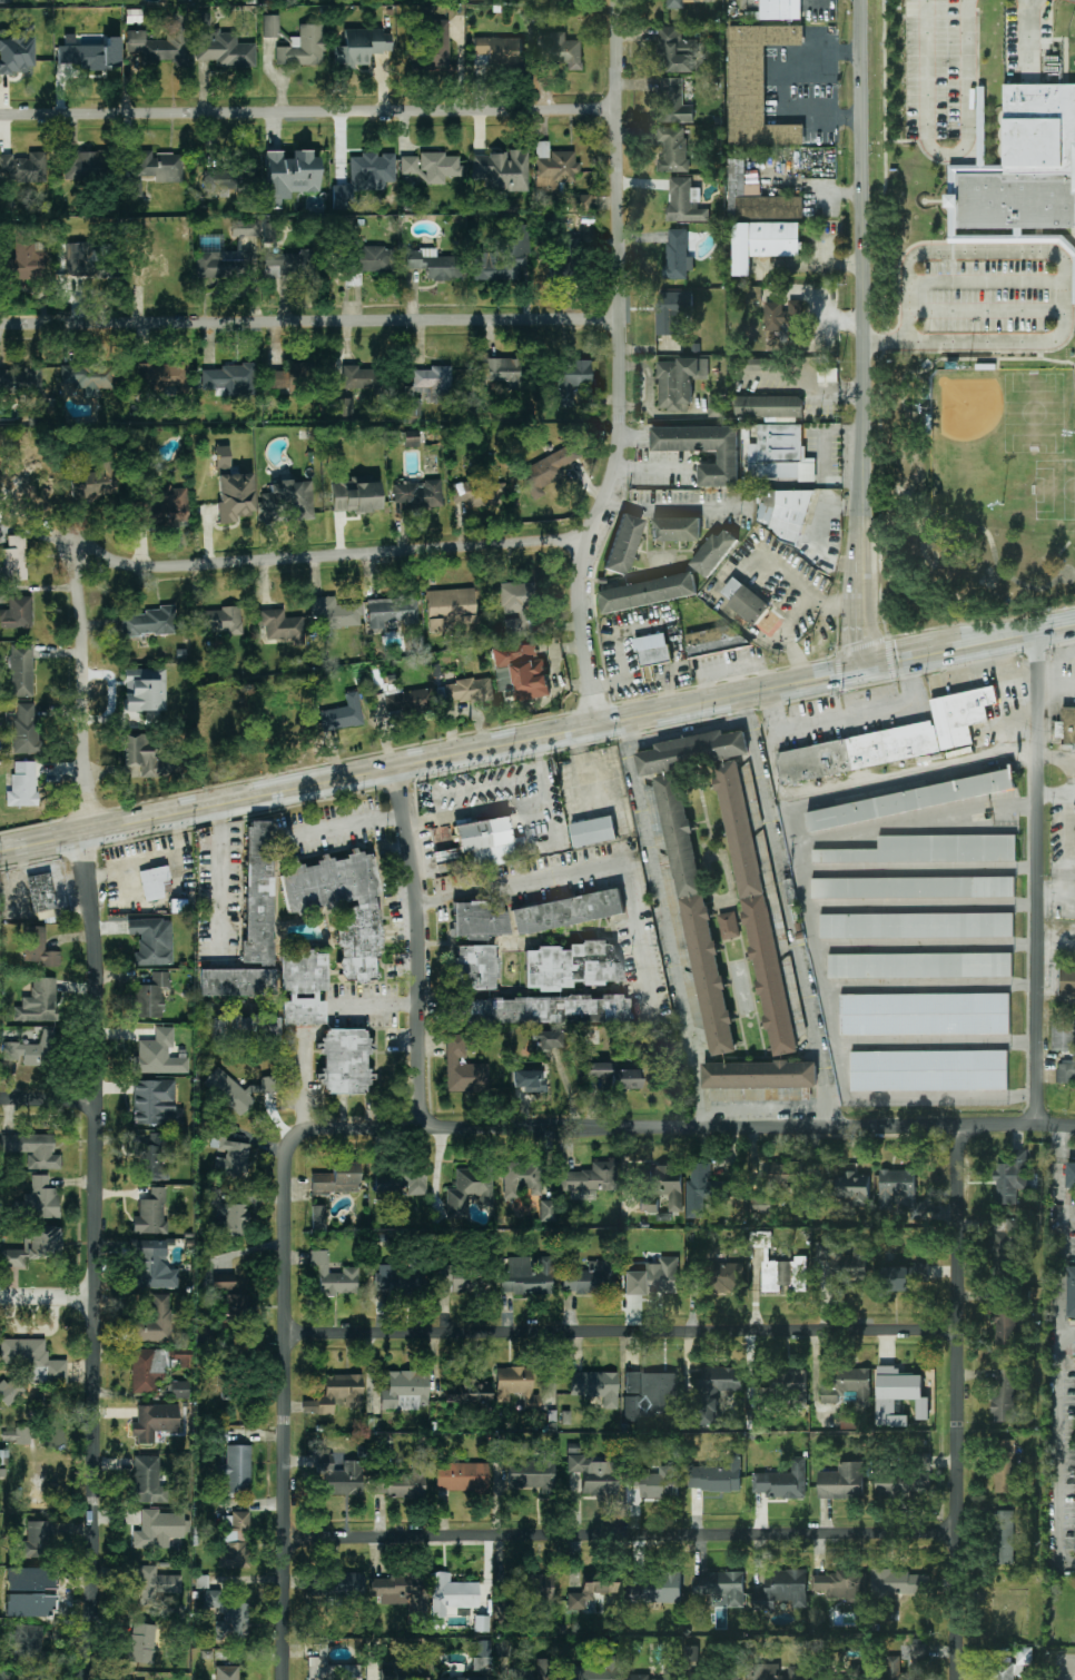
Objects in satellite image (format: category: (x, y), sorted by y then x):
building: (4, 1)
building: (674, 3)
building: (780, 9)
building: (270, 27)
road: (1035, 36)
building: (164, 43)
building: (220, 46)
building: (437, 46)
building: (362, 47)
building: (304, 48)
building: (497, 48)
building: (560, 50)
building: (675, 50)
building: (18, 52)
building: (91, 56)
building: (756, 85)
building: (673, 101)
road: (309, 111)
building: (672, 148)
road: (948, 152)
building: (85, 166)
building: (1027, 166)
building: (159, 167)
building: (441, 167)
building: (23, 168)
building: (412, 169)
building: (503, 170)
building: (372, 171)
building: (289, 176)
building: (559, 179)
building: (220, 181)
building: (955, 184)
building: (134, 189)
building: (757, 198)
building: (684, 200)
flagpole: (925, 201)
building: (245, 228)
building: (269, 233)
road: (862, 238)
building: (763, 243)
building: (677, 254)
building: (372, 259)
building: (504, 259)
building: (26, 260)
building: (83, 261)
building: (152, 265)
building: (224, 265)
building: (289, 265)
building: (433, 265)
road: (986, 280)
building: (752, 293)
road: (1064, 297)
road: (967, 308)
building: (672, 312)
building: (780, 319)
road: (310, 323)
road: (1044, 357)
road: (960, 360)
road: (1002, 363)
building: (761, 364)
street lamp: (970, 365)
road: (620, 366)
building: (502, 372)
building: (828, 376)
building: (87, 377)
building: (164, 377)
building: (289, 377)
building: (571, 377)
building: (358, 378)
building: (21, 379)
building: (229, 379)
building: (678, 381)
building: (426, 389)
building: (771, 406)
building: (343, 407)
building: (716, 411)
park: (993, 429)
street lamp: (1074, 432)
building: (412, 439)
building: (703, 449)
building: (780, 453)
road: (650, 466)
building: (545, 472)
building: (91, 480)
building: (418, 494)
building: (480, 494)
building: (234, 495)
building: (356, 496)
building: (288, 502)
street lamp: (1004, 504)
road: (672, 507)
building: (165, 508)
building: (783, 512)
building: (675, 528)
road: (865, 532)
building: (624, 544)
building: (714, 552)
road: (316, 556)
building: (14, 560)
road: (998, 562)
building: (648, 592)
building: (744, 601)
building: (450, 607)
building: (520, 609)
building: (391, 611)
building: (17, 613)
building: (335, 613)
building: (218, 621)
building: (149, 622)
building: (282, 626)
road: (861, 630)
building: (714, 641)
building: (652, 650)
road: (1057, 654)
building: (524, 670)
building: (21, 671)
traffic signals: (860, 672)
building: (504, 678)
road: (1057, 689)
building: (469, 691)
road: (82, 692)
building: (145, 693)
building: (408, 702)
building: (343, 714)
building: (960, 714)
road: (846, 715)
building: (1068, 723)
building: (24, 730)
road: (536, 739)
building: (692, 751)
building: (857, 752)
road: (1057, 754)
building: (139, 757)
road: (582, 783)
building: (23, 785)
road: (1057, 791)
road: (500, 800)
building: (910, 800)
road: (792, 823)
road: (352, 829)
building: (593, 831)
building: (485, 843)
building: (927, 849)
road: (920, 868)
road: (583, 871)
road: (219, 874)
road: (1039, 878)
building: (154, 882)
building: (913, 887)
building: (41, 892)
road: (924, 902)
building: (756, 908)
building: (569, 911)
road: (795, 911)
building: (696, 915)
building: (363, 916)
building: (480, 920)
road: (663, 923)
building: (252, 925)
building: (729, 925)
building: (916, 925)
building: (152, 941)
road: (928, 943)
building: (38, 948)
road: (421, 948)
building: (572, 965)
building: (919, 965)
building: (475, 968)
building: (1067, 981)
road: (933, 986)
building: (303, 987)
building: (151, 996)
building: (38, 1002)
road: (379, 1006)
building: (550, 1010)
building: (925, 1014)
building: (246, 1029)
building: (546, 1040)
road: (937, 1042)
building: (1064, 1047)
building: (33, 1050)
building: (159, 1055)
building: (345, 1061)
road: (840, 1061)
building: (463, 1068)
building: (928, 1070)
building: (598, 1071)
building: (759, 1075)
building: (627, 1079)
building: (529, 1080)
road: (303, 1085)
road: (49, 1101)
building: (156, 1104)
road: (688, 1126)
building: (32, 1149)
building: (229, 1154)
building: (155, 1158)
building: (787, 1175)
building: (1010, 1177)
building: (337, 1179)
building: (521, 1179)
building: (589, 1179)
building: (402, 1183)
building: (896, 1185)
building: (663, 1188)
building: (845, 1188)
building: (703, 1189)
building: (470, 1192)
building: (41, 1199)
building: (548, 1210)
road: (1067, 1212)
building: (226, 1213)
building: (151, 1214)
building: (318, 1217)
building: (1005, 1243)
building: (33, 1246)
road: (97, 1256)
building: (845, 1259)
building: (152, 1267)
building: (780, 1267)
building: (908, 1275)
building: (334, 1276)
building: (724, 1276)
building: (526, 1277)
building: (652, 1277)
building: (452, 1279)
building: (590, 1279)
building: (398, 1281)
building: (223, 1283)
building: (1071, 1292)
road: (48, 1297)
building: (230, 1304)
building: (155, 1322)
building: (1005, 1326)
road: (624, 1331)
road: (1066, 1340)
road: (1056, 1352)
building: (184, 1357)
building: (33, 1361)
building: (148, 1370)
building: (516, 1385)
building: (849, 1385)
building: (595, 1386)
building: (786, 1389)
building: (180, 1390)
building: (10, 1391)
building: (405, 1391)
building: (716, 1391)
building: (337, 1394)
building: (467, 1394)
building: (651, 1394)
building: (1003, 1394)
building: (898, 1395)
road: (958, 1402)
road: (288, 1404)
building: (154, 1422)
building: (18, 1435)
building: (1005, 1465)
building: (236, 1470)
building: (533, 1473)
building: (717, 1475)
building: (462, 1476)
building: (593, 1476)
building: (148, 1481)
building: (782, 1481)
building: (842, 1481)
building: (903, 1482)
building: (159, 1529)
road: (623, 1534)
building: (1005, 1536)
building: (38, 1541)
building: (235, 1542)
building: (898, 1582)
building: (156, 1584)
building: (841, 1585)
building: (722, 1587)
building: (344, 1588)
building: (534, 1589)
building: (660, 1589)
building: (389, 1590)
building: (782, 1590)
building: (33, 1595)
building: (452, 1595)
building: (592, 1595)
building: (213, 1599)
building: (233, 1622)
building: (482, 1624)
building: (28, 1643)
building: (142, 1643)
building: (918, 1652)
building: (691, 1654)
building: (482, 1657)
building: (1024, 1657)
road: (1068, 1662)
building: (894, 1663)
building: (332, 1670)
building: (596, 1670)
building: (854, 1670)
building: (532, 1671)
building: (1003, 1671)
building: (773, 1672)
building: (228, 1673)
building: (732, 1676)
building: (637, 1677)
building: (21, 1678)
building: (403, 1678)
building: (469, 1678)

